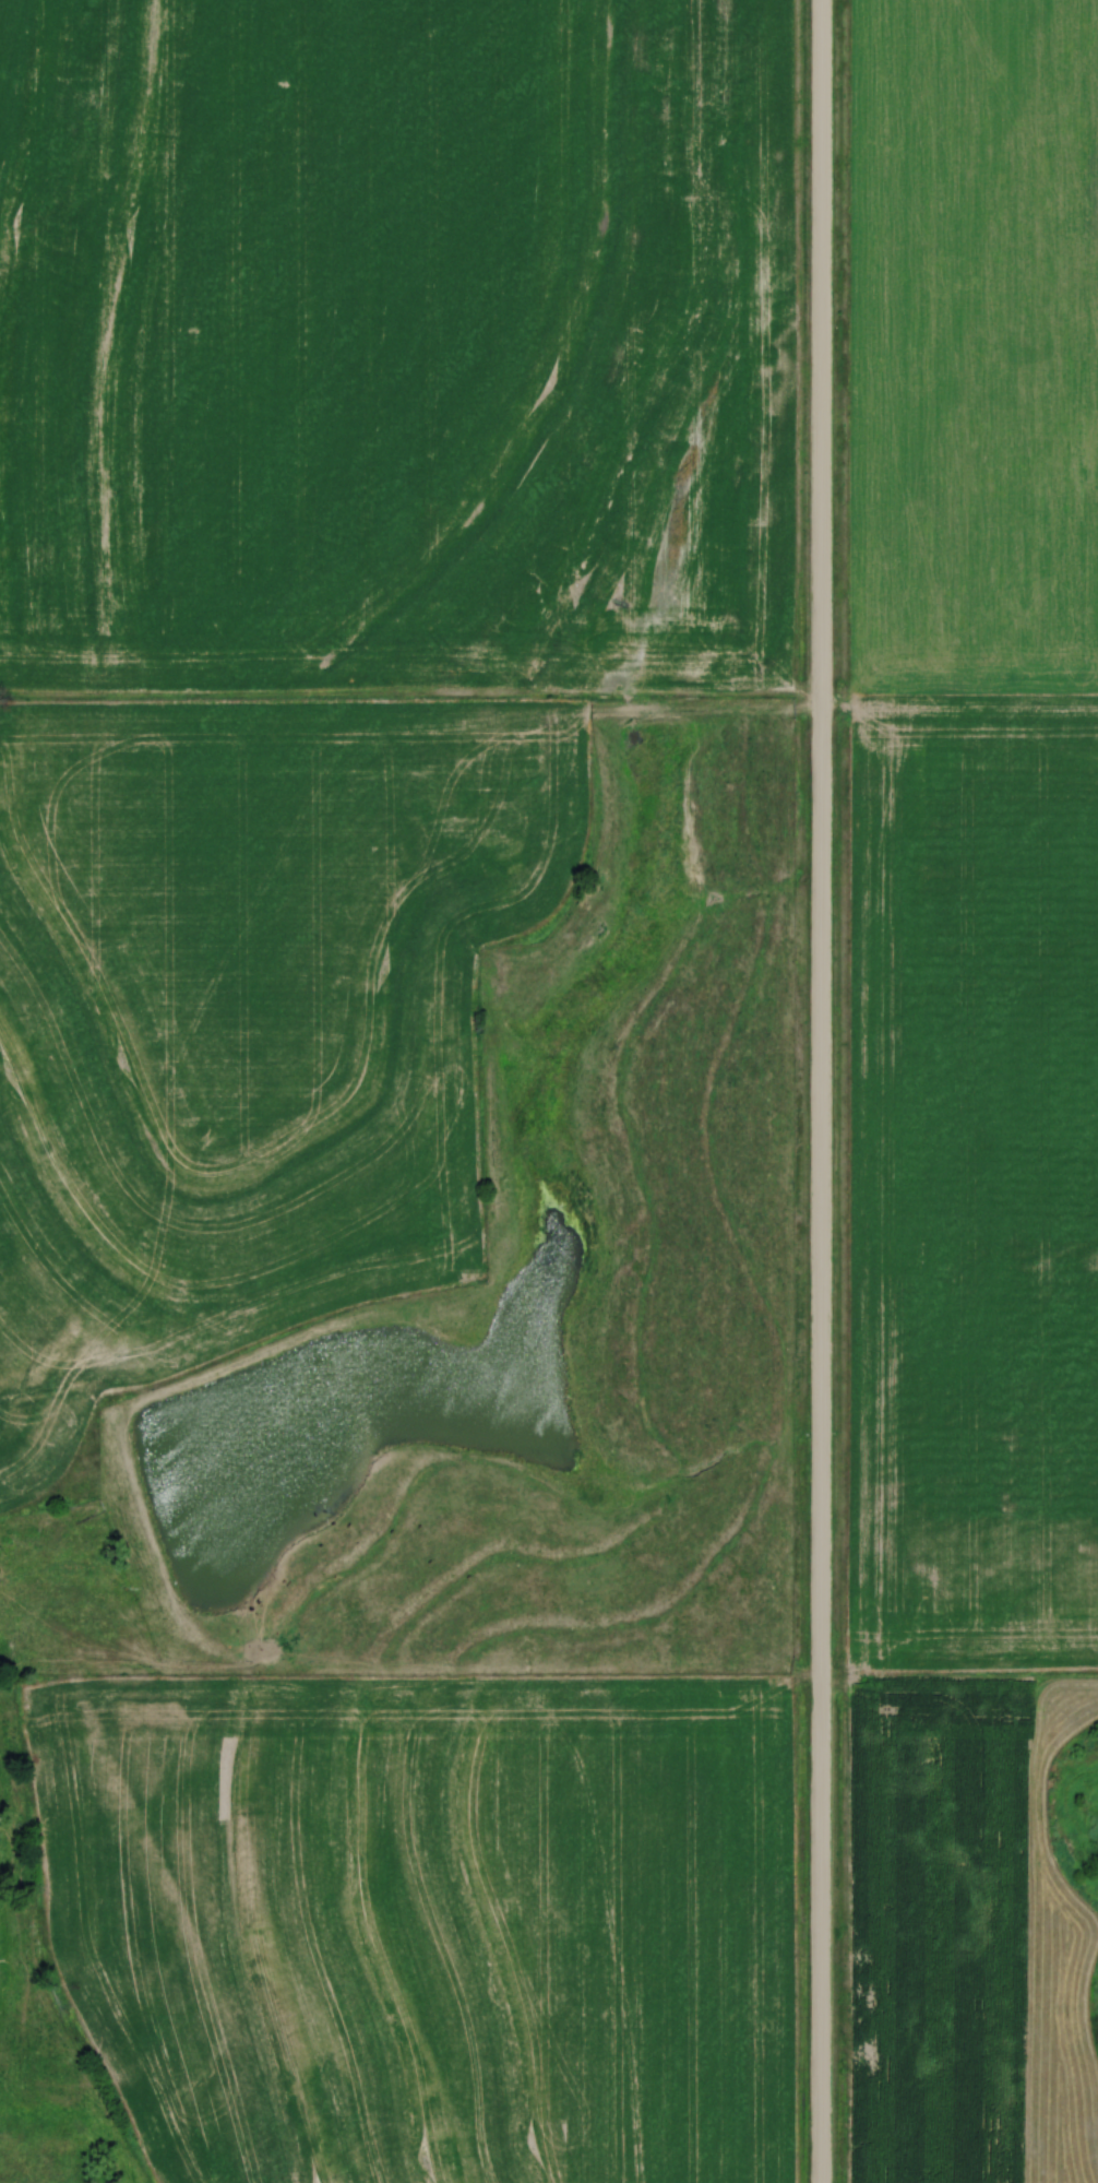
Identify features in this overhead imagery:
road: (819, 1091)

